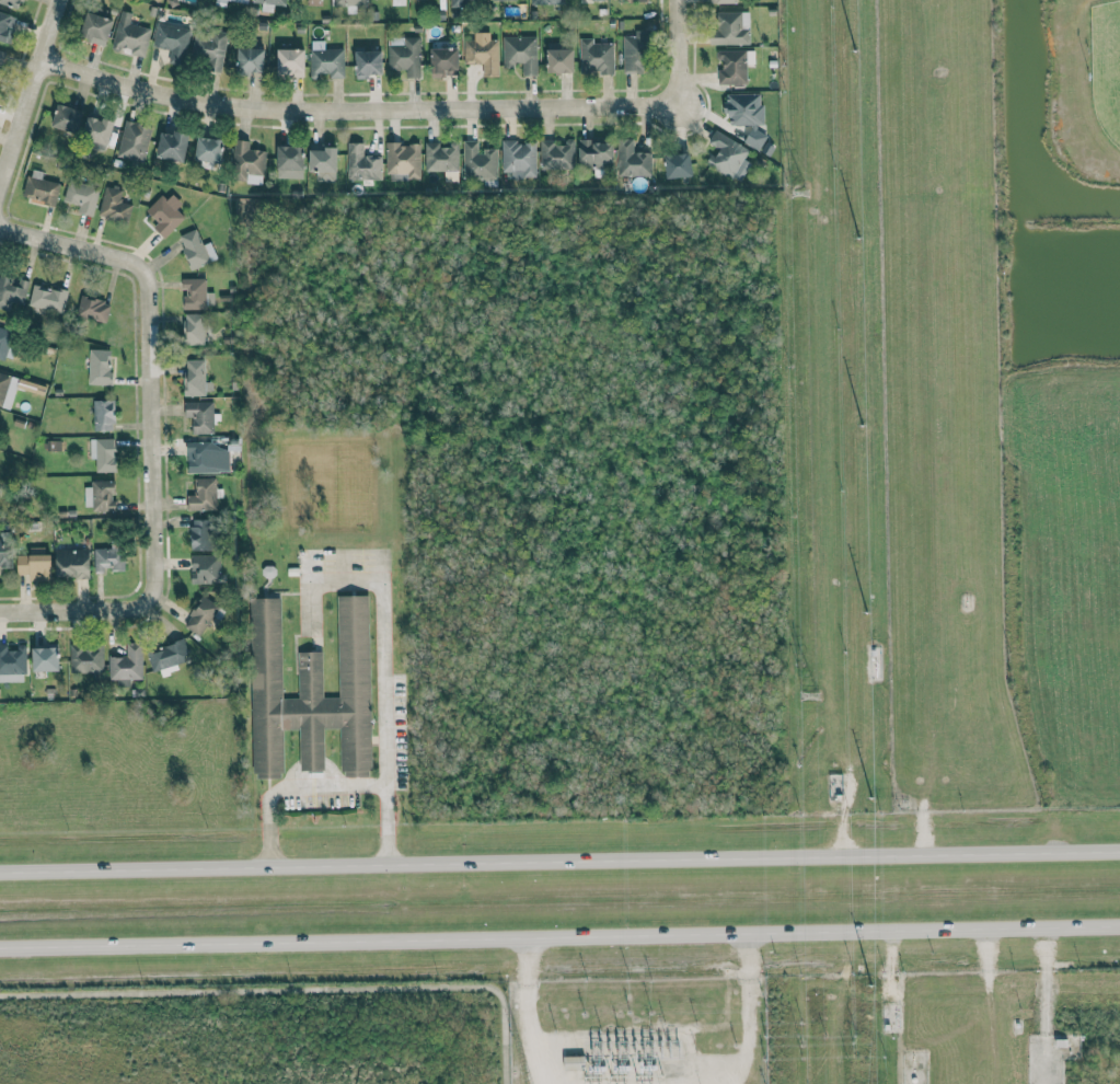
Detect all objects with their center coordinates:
building: (495, 0)
building: (597, 0)
building: (638, 0)
building: (270, 1)
building: (546, 1)
building: (721, 1)
building: (13, 2)
building: (226, 2)
building: (349, 2)
building: (457, 3)
building: (5, 22)
building: (730, 27)
building: (95, 28)
building: (130, 35)
building: (173, 42)
building: (208, 48)
building: (520, 53)
building: (634, 53)
building: (483, 55)
building: (1, 56)
building: (405, 57)
building: (596, 57)
building: (250, 60)
building: (325, 60)
building: (559, 60)
road: (682, 60)
building: (290, 61)
building: (443, 61)
building: (368, 64)
building: (734, 65)
park: (1106, 66)
building: (0, 72)
road: (34, 97)
park: (1055, 106)
building: (743, 108)
road: (355, 116)
building: (66, 118)
building: (97, 129)
building: (755, 137)
building: (134, 141)
building: (172, 146)
building: (208, 149)
building: (557, 154)
building: (596, 155)
building: (728, 155)
building: (440, 157)
building: (519, 158)
building: (403, 159)
building: (632, 160)
building: (289, 161)
building: (478, 161)
building: (246, 162)
building: (323, 163)
building: (362, 163)
building: (677, 164)
building: (41, 189)
power tower: (797, 189)
building: (81, 196)
building: (114, 205)
building: (164, 214)
building: (196, 249)
road: (89, 251)
building: (12, 290)
building: (196, 293)
building: (47, 298)
building: (93, 308)
building: (193, 328)
building: (3, 341)
building: (99, 367)
building: (196, 378)
building: (37, 391)
building: (103, 414)
building: (200, 416)
building: (103, 453)
road: (162, 454)
building: (207, 458)
building: (203, 495)
building: (99, 496)
building: (201, 534)
building: (4, 549)
building: (108, 558)
building: (72, 563)
building: (34, 565)
building: (205, 568)
road: (74, 604)
road: (381, 608)
building: (200, 615)
building: (168, 656)
building: (45, 658)
building: (86, 658)
building: (12, 664)
building: (126, 664)
building: (311, 693)
power tower: (809, 694)
road: (332, 783)
road: (559, 862)
road: (559, 936)
road: (296, 989)
power substation: (636, 1030)

